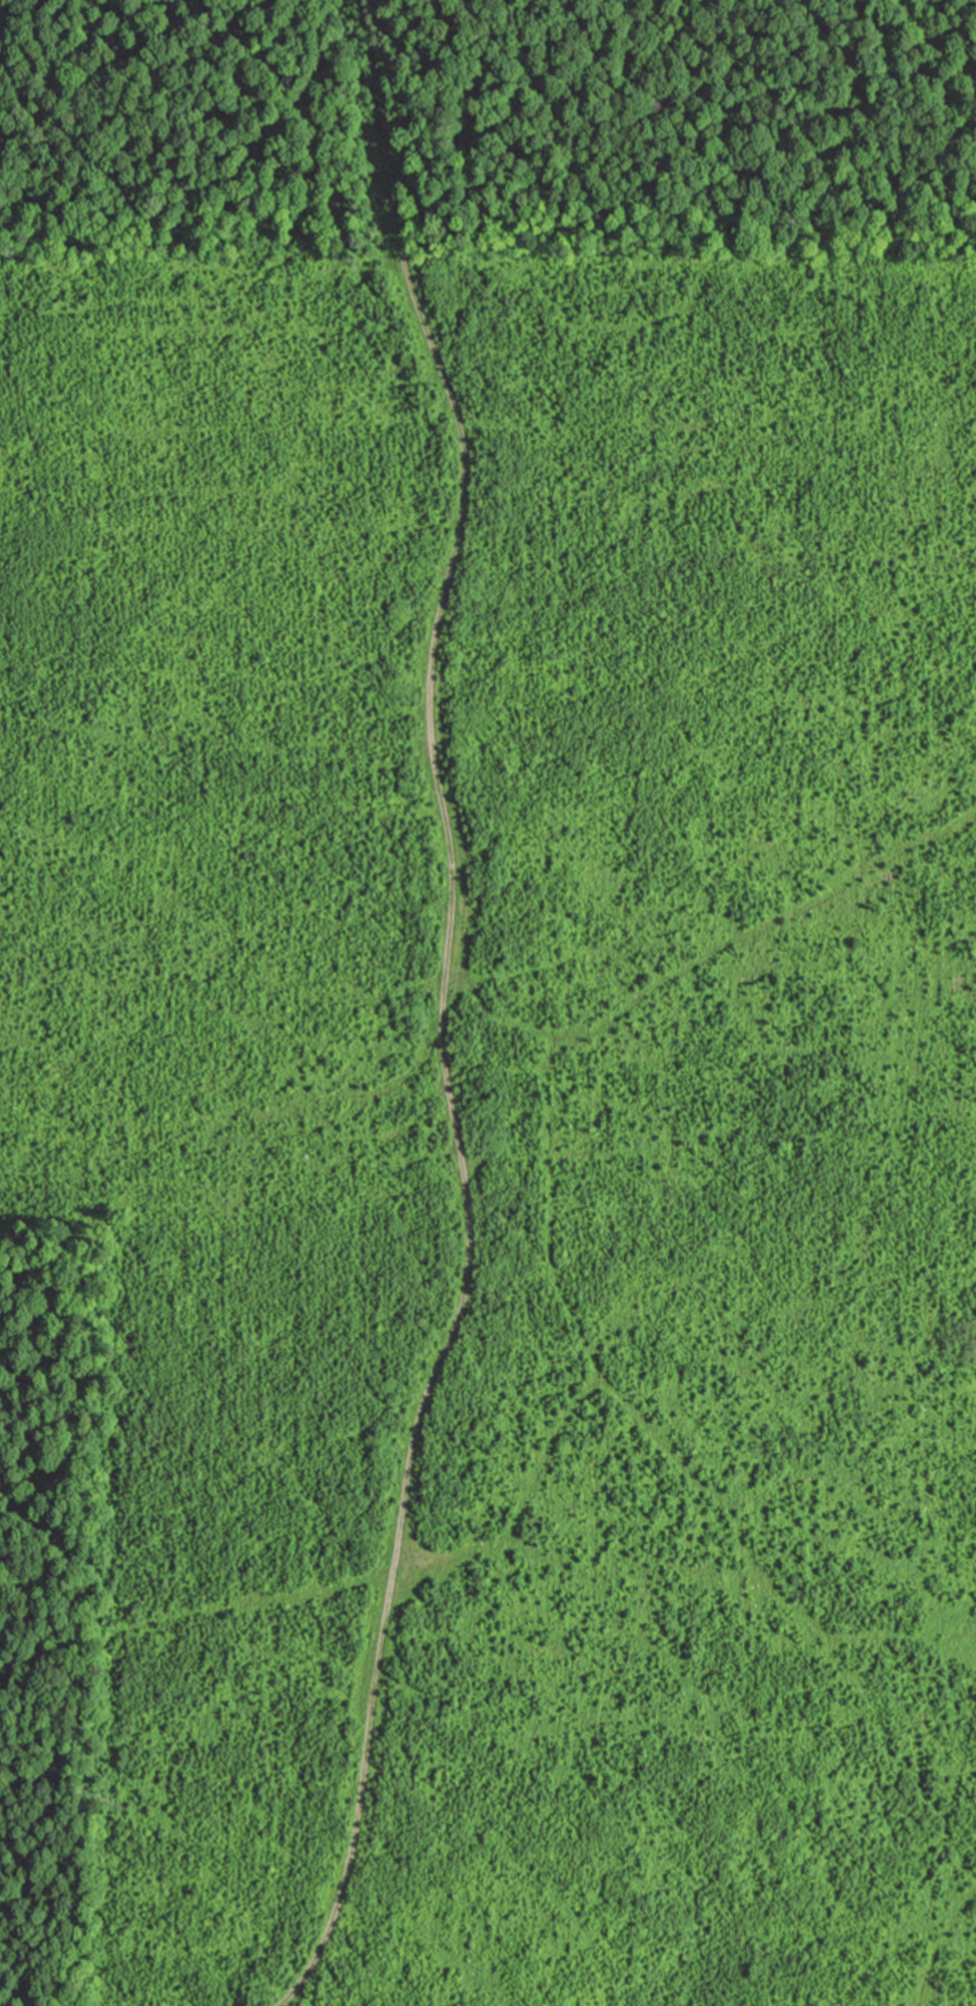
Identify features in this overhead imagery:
road: (444, 1012)

